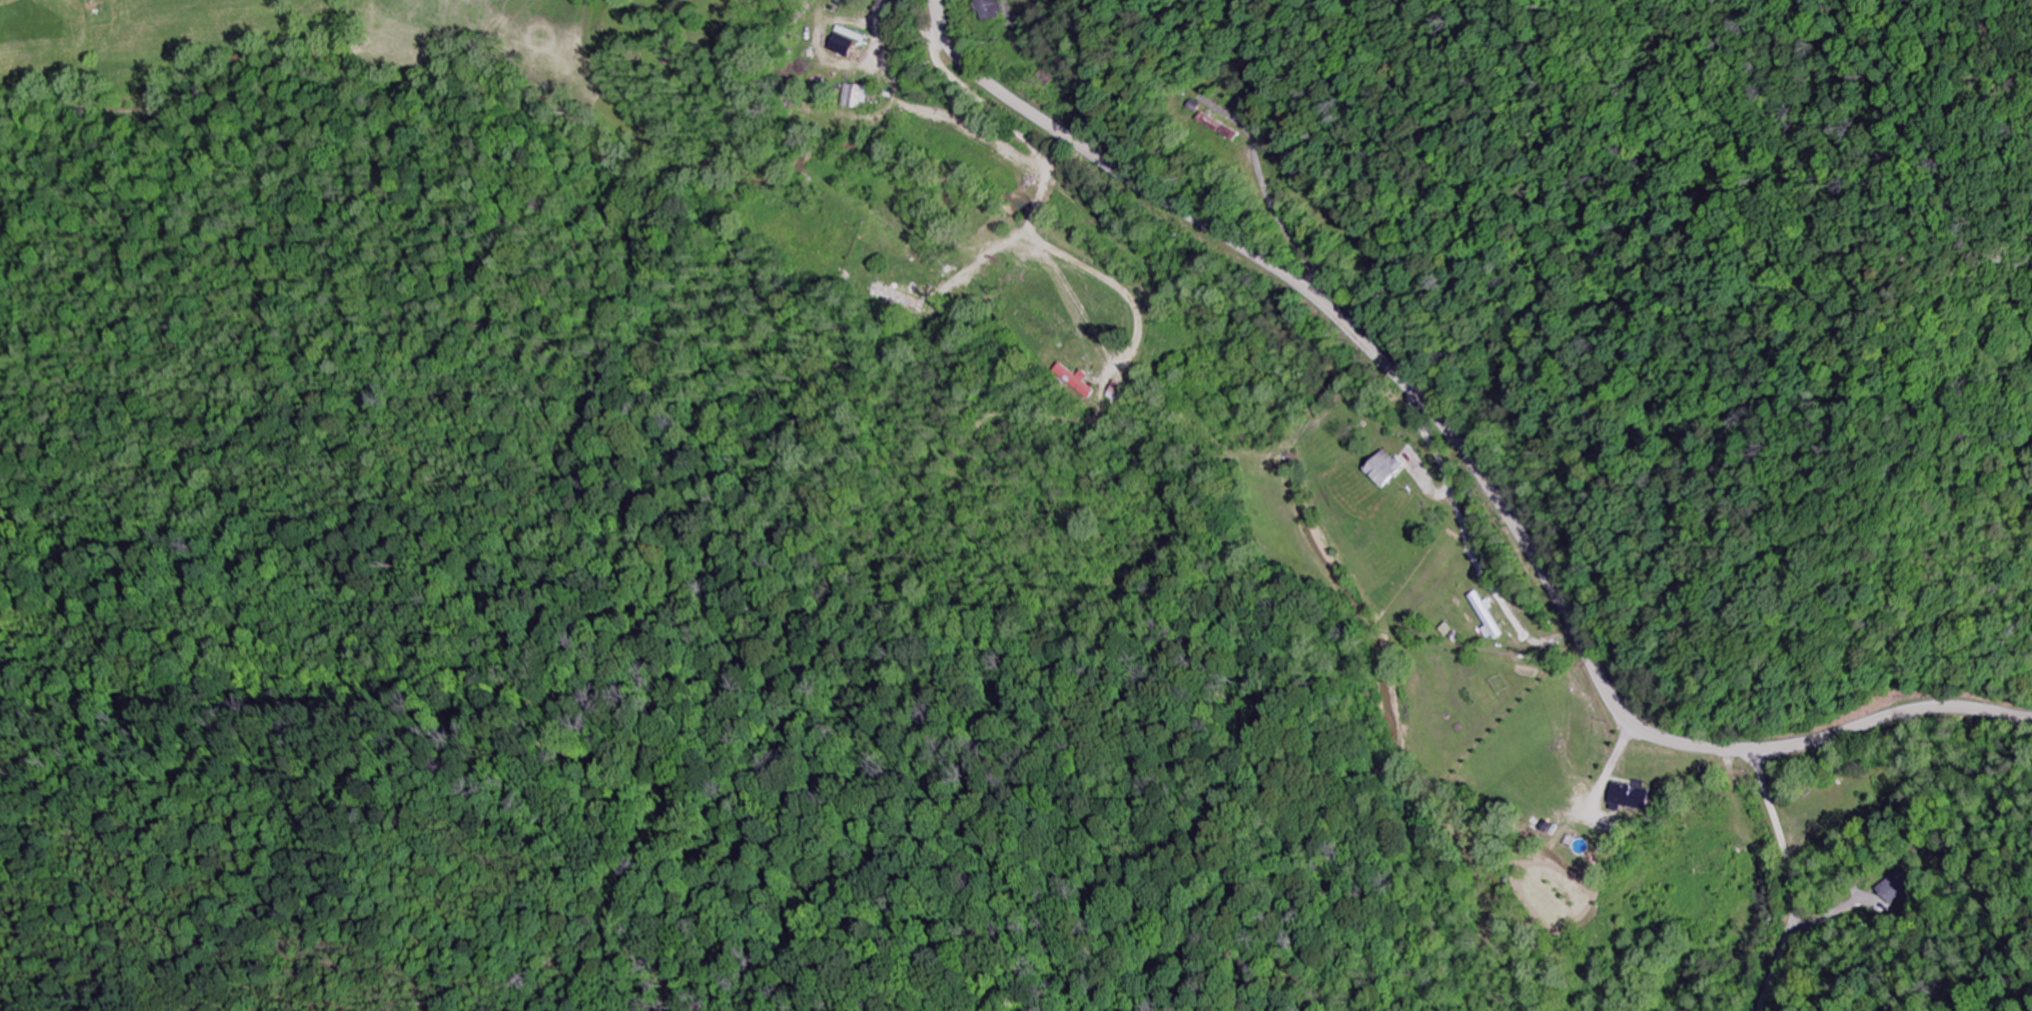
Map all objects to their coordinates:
building: (993, 10)
building: (843, 45)
building: (855, 97)
road: (1472, 460)
building: (1386, 468)
road: (390, 480)
road: (667, 572)
building: (1484, 616)
road: (1788, 880)
building: (1891, 889)
road: (1796, 930)

